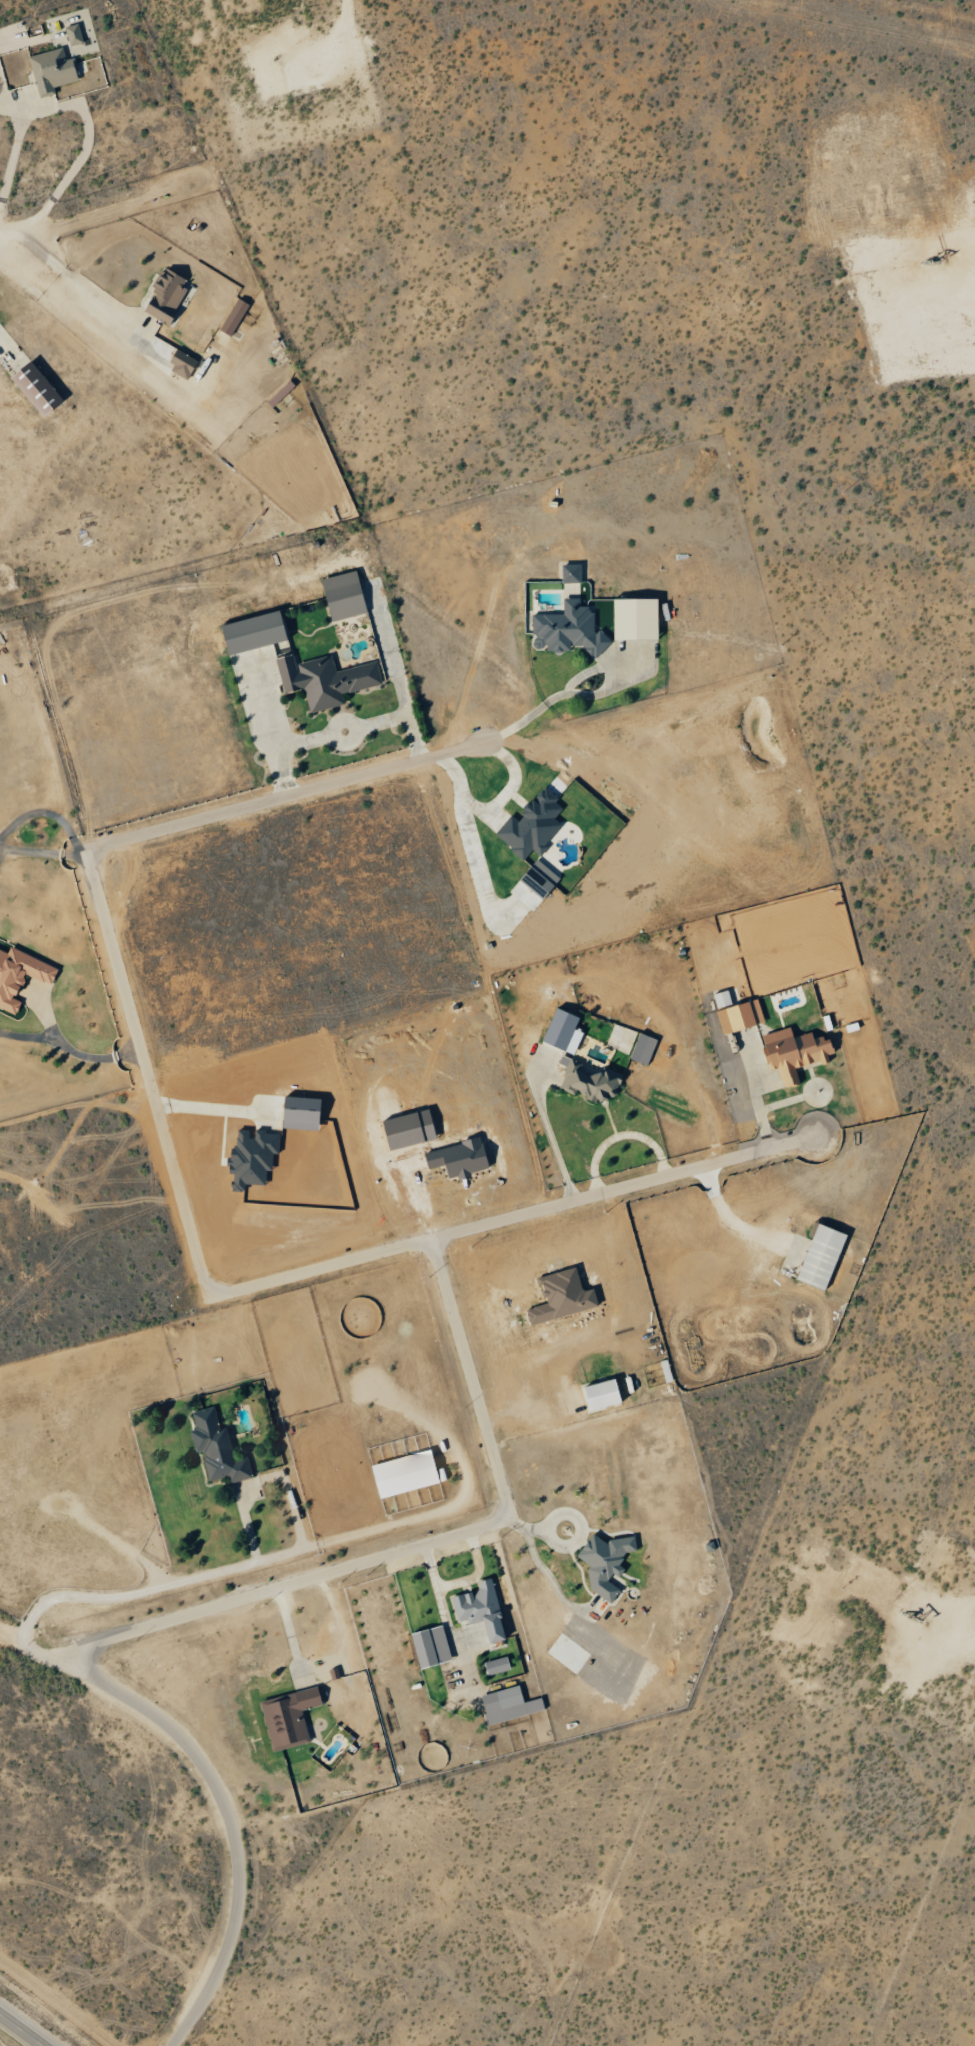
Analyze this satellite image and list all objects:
building: (74, 34)
building: (53, 70)
road: (74, 106)
road: (107, 205)
road: (1, 230)
road: (73, 278)
building: (167, 295)
building: (234, 316)
building: (183, 364)
building: (37, 388)
building: (281, 394)
building: (344, 596)
building: (636, 619)
building: (568, 620)
building: (256, 650)
building: (325, 680)
road: (580, 694)
road: (401, 717)
road: (350, 723)
road: (283, 749)
road: (284, 797)
road: (46, 813)
building: (533, 825)
building: (572, 832)
road: (40, 852)
building: (540, 879)
building: (20, 976)
building: (725, 998)
building: (741, 1017)
building: (561, 1029)
road: (69, 1048)
building: (643, 1049)
building: (794, 1053)
road: (144, 1075)
building: (589, 1081)
building: (302, 1114)
road: (549, 1133)
building: (253, 1157)
building: (459, 1159)
road: (510, 1218)
building: (822, 1256)
building: (562, 1296)
road: (468, 1382)
building: (603, 1394)
road: (535, 1415)
building: (407, 1473)
building: (606, 1562)
building: (617, 1581)
road: (282, 1587)
road: (123, 1597)
building: (482, 1609)
building: (431, 1647)
building: (497, 1666)
building: (508, 1705)
building: (290, 1718)
road: (229, 1823)
road: (21, 2029)

